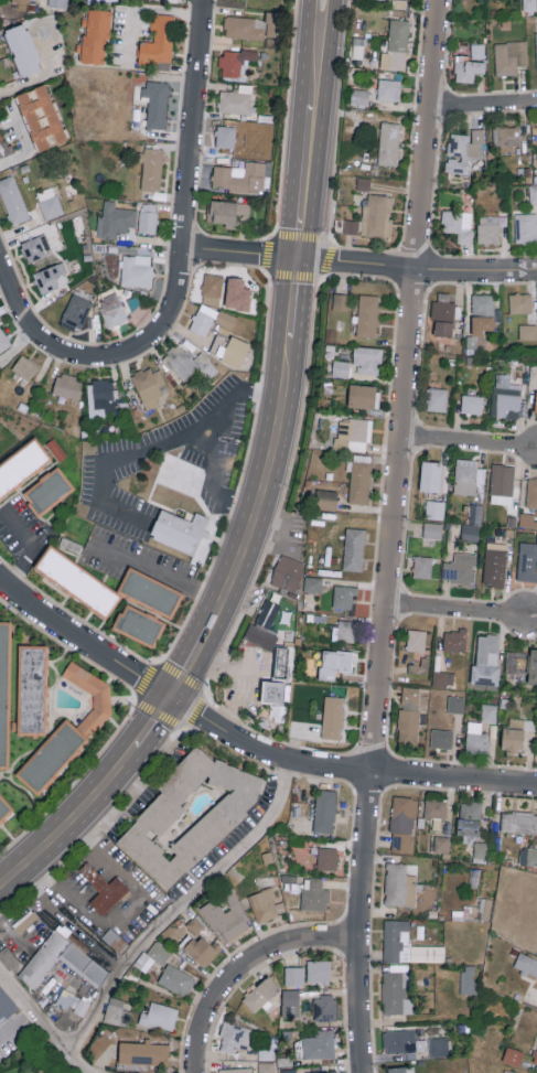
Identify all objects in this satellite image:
building: (21, 1)
building: (58, 2)
building: (529, 4)
building: (271, 23)
building: (245, 26)
building: (96, 34)
building: (159, 40)
building: (398, 40)
building: (536, 45)
building: (358, 47)
building: (22, 49)
building: (477, 50)
road: (311, 53)
road: (325, 53)
building: (509, 55)
building: (237, 61)
building: (468, 68)
road: (39, 78)
building: (389, 89)
building: (359, 96)
building: (157, 103)
road: (483, 107)
building: (41, 116)
building: (225, 135)
building: (507, 137)
building: (389, 142)
building: (3, 143)
building: (464, 150)
building: (152, 169)
road: (187, 175)
building: (239, 175)
road: (304, 182)
building: (533, 192)
building: (13, 198)
building: (50, 202)
building: (227, 211)
building: (376, 215)
building: (148, 217)
building: (115, 219)
building: (459, 224)
building: (351, 225)
building: (491, 227)
building: (526, 227)
building: (35, 247)
road: (238, 253)
traffic signals: (294, 259)
road: (415, 268)
building: (137, 270)
road: (321, 275)
building: (49, 276)
building: (212, 288)
building: (237, 293)
building: (340, 300)
road: (290, 301)
building: (520, 302)
building: (483, 303)
building: (112, 309)
building: (76, 311)
building: (367, 314)
building: (443, 314)
building: (203, 319)
building: (226, 319)
building: (483, 323)
building: (528, 331)
building: (3, 340)
road: (53, 342)
road: (18, 344)
building: (229, 348)
building: (367, 360)
building: (187, 362)
building: (25, 366)
building: (341, 367)
building: (67, 385)
building: (149, 386)
building: (362, 395)
building: (104, 396)
building: (506, 397)
building: (437, 398)
building: (536, 401)
building: (353, 433)
road: (159, 444)
road: (468, 444)
parking lot: (121, 459)
building: (21, 464)
road: (241, 475)
building: (430, 475)
building: (468, 475)
building: (359, 478)
road: (213, 482)
building: (502, 483)
building: (47, 487)
road: (260, 487)
road: (283, 491)
building: (531, 492)
building: (325, 498)
building: (434, 508)
building: (476, 513)
building: (432, 529)
building: (470, 532)
building: (181, 533)
road: (391, 536)
building: (354, 548)
road: (31, 550)
building: (527, 560)
building: (495, 562)
building: (422, 566)
building: (460, 568)
road: (158, 573)
building: (288, 579)
building: (76, 580)
building: (312, 583)
building: (150, 590)
building: (343, 597)
road: (458, 613)
building: (266, 614)
building: (139, 624)
building: (346, 630)
road: (203, 636)
building: (268, 640)
building: (417, 640)
building: (454, 640)
road: (84, 641)
building: (486, 659)
building: (334, 663)
building: (523, 663)
road: (229, 665)
building: (420, 666)
road: (183, 673)
building: (442, 678)
building: (3, 688)
building: (31, 688)
road: (201, 690)
building: (410, 697)
building: (455, 704)
building: (96, 711)
building: (333, 717)
road: (153, 721)
building: (408, 726)
building: (515, 733)
building: (476, 737)
building: (441, 738)
building: (52, 754)
road: (345, 768)
road: (74, 782)
building: (4, 808)
building: (436, 808)
building: (324, 811)
building: (190, 815)
building: (470, 818)
road: (72, 820)
building: (518, 822)
building: (402, 823)
building: (441, 844)
building: (528, 856)
building: (326, 858)
building: (399, 886)
building: (107, 889)
building: (313, 893)
building: (264, 904)
road: (179, 906)
road: (122, 911)
building: (227, 915)
building: (28, 922)
building: (194, 925)
road: (13, 934)
building: (118, 941)
building: (407, 944)
building: (202, 948)
building: (153, 955)
building: (67, 961)
building: (526, 964)
road: (245, 967)
building: (319, 970)
building: (294, 975)
building: (176, 979)
building: (468, 979)
building: (397, 988)
building: (260, 994)
building: (73, 1001)
building: (290, 1002)
building: (6, 1006)
building: (324, 1007)
building: (117, 1011)
building: (160, 1016)
road: (44, 1027)
building: (13, 1030)
building: (234, 1037)
building: (401, 1041)
building: (320, 1044)
building: (438, 1047)
building: (143, 1052)
building: (513, 1055)
building: (535, 1058)
building: (236, 1070)
building: (401, 1070)
building: (288, 1071)
building: (334, 1072)

